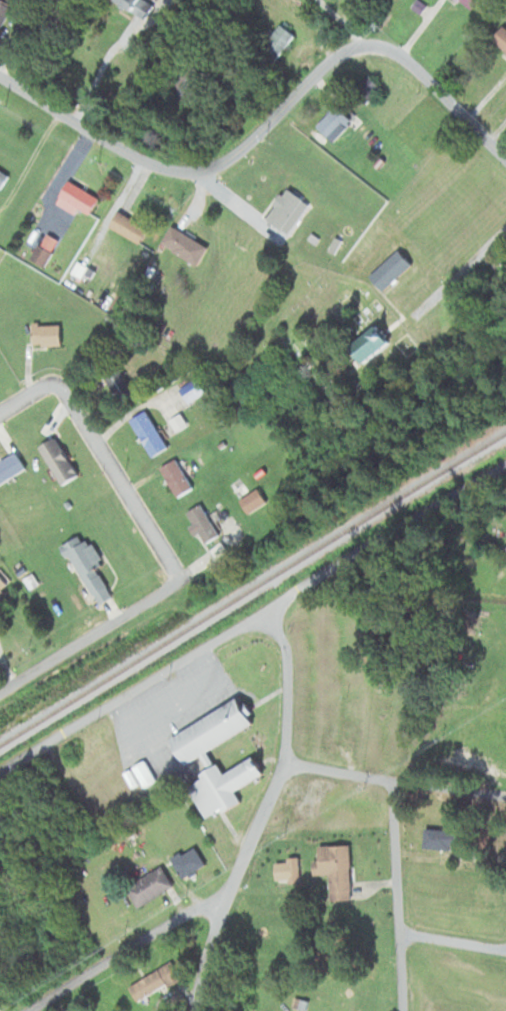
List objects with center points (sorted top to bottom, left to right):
building: (21, 0)
building: (470, 3)
building: (139, 7)
building: (418, 7)
building: (5, 13)
building: (501, 38)
building: (277, 43)
road: (98, 69)
building: (189, 82)
building: (367, 88)
building: (334, 121)
road: (268, 122)
road: (29, 160)
building: (3, 177)
building: (80, 196)
building: (288, 209)
building: (130, 226)
building: (186, 244)
building: (44, 254)
building: (391, 269)
road: (460, 272)
building: (49, 333)
building: (374, 343)
building: (121, 383)
road: (25, 397)
building: (151, 434)
building: (60, 461)
building: (11, 468)
building: (177, 479)
building: (238, 487)
building: (253, 502)
building: (203, 524)
road: (155, 539)
building: (90, 569)
building: (3, 585)
railway: (253, 588)
road: (252, 616)
road: (27, 674)
road: (175, 708)
building: (213, 731)
building: (146, 774)
road: (393, 781)
building: (224, 786)
road: (263, 811)
building: (438, 839)
building: (190, 862)
building: (295, 870)
building: (337, 870)
building: (151, 887)
road: (397, 896)
road: (453, 941)
road: (124, 951)
building: (156, 983)
building: (0, 997)

